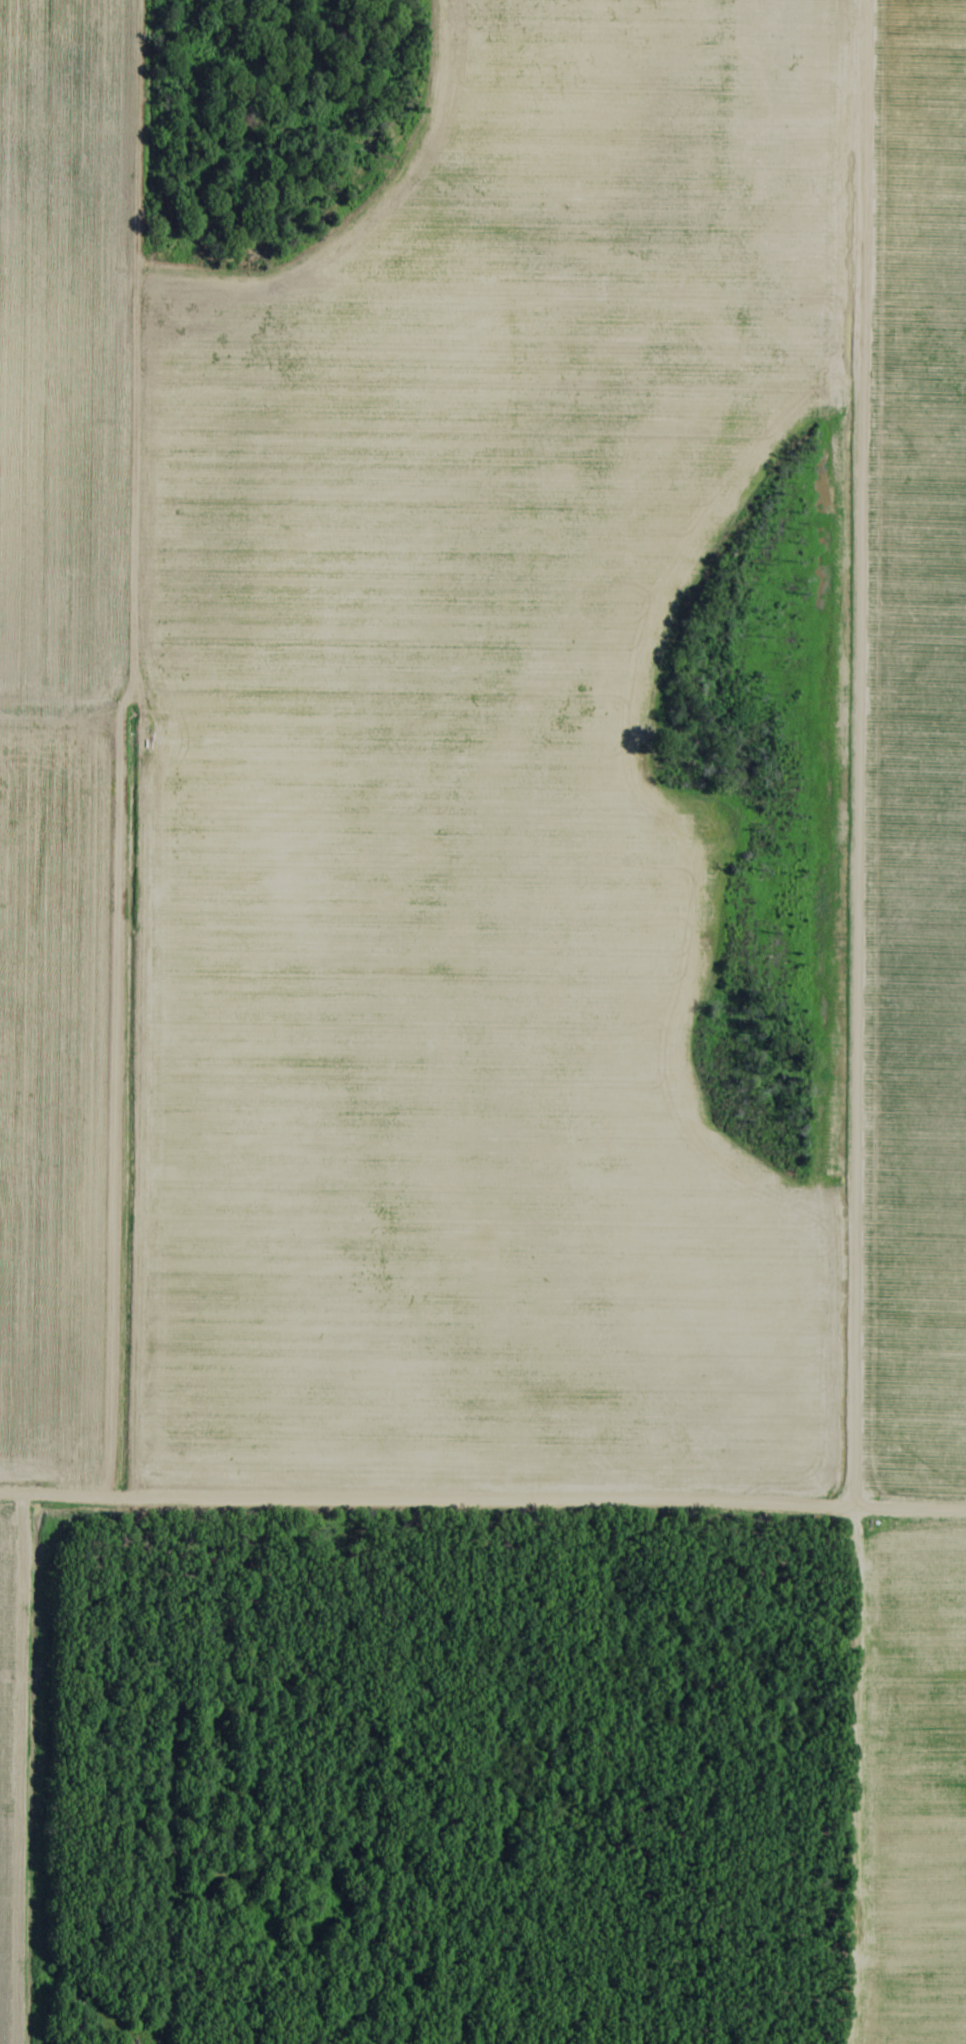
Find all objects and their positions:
road: (852, 1021)
road: (423, 1506)

